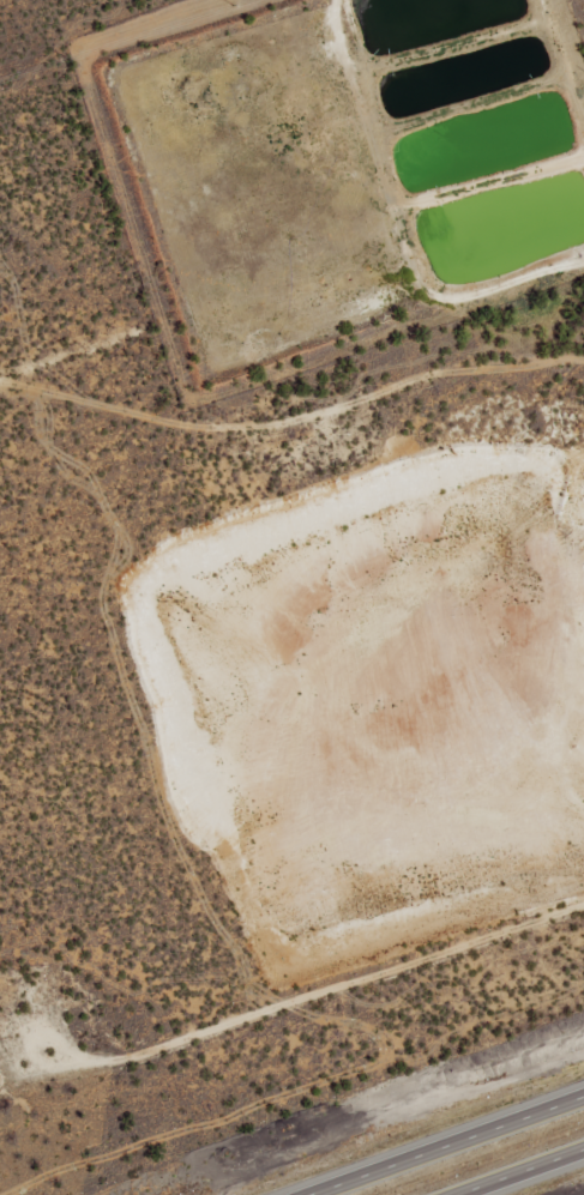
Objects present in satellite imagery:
wastewater plant: (335, 168)
road: (293, 421)
road: (291, 1009)
road: (446, 1145)
road: (520, 1171)

